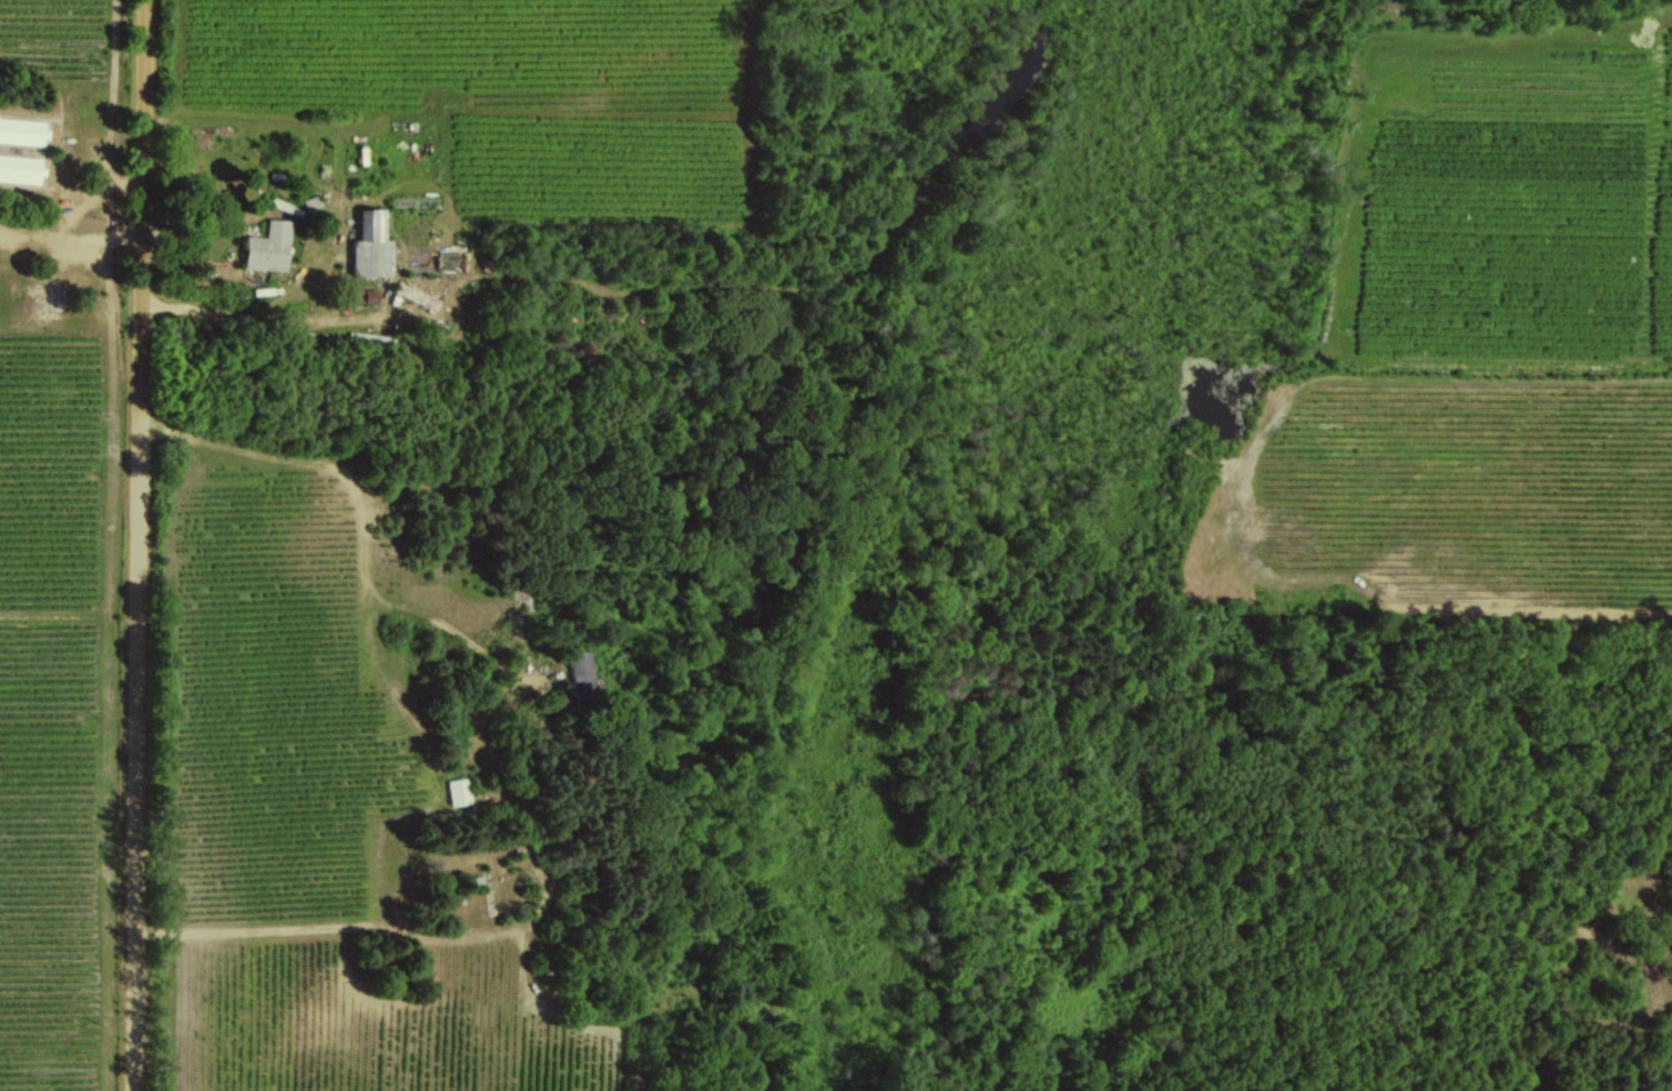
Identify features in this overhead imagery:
building: (22, 131)
building: (21, 167)
building: (371, 244)
building: (268, 246)
building: (370, 295)
road: (140, 544)
building: (581, 676)
building: (461, 792)

